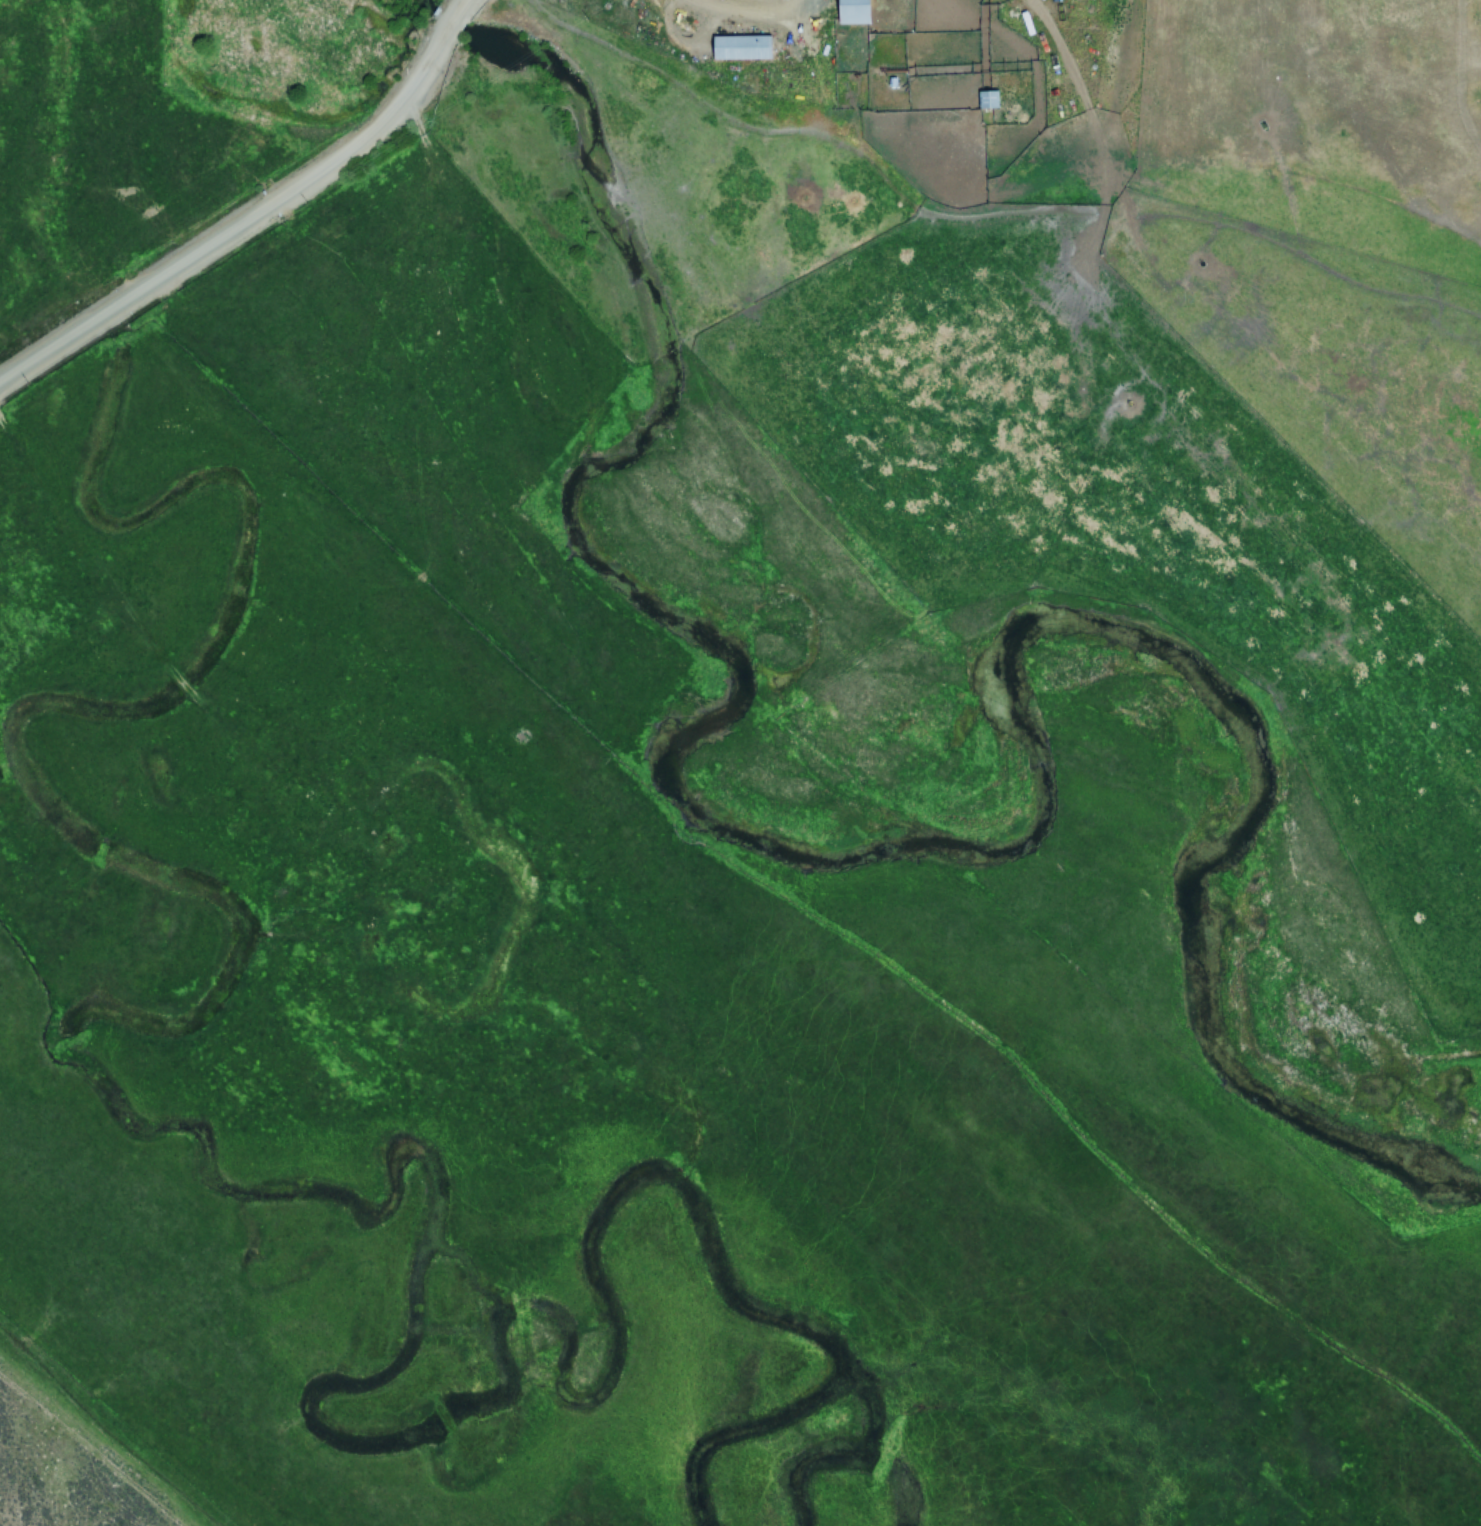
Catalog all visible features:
building: (849, 13)
building: (736, 50)
building: (985, 102)
road: (263, 217)
river: (867, 841)

